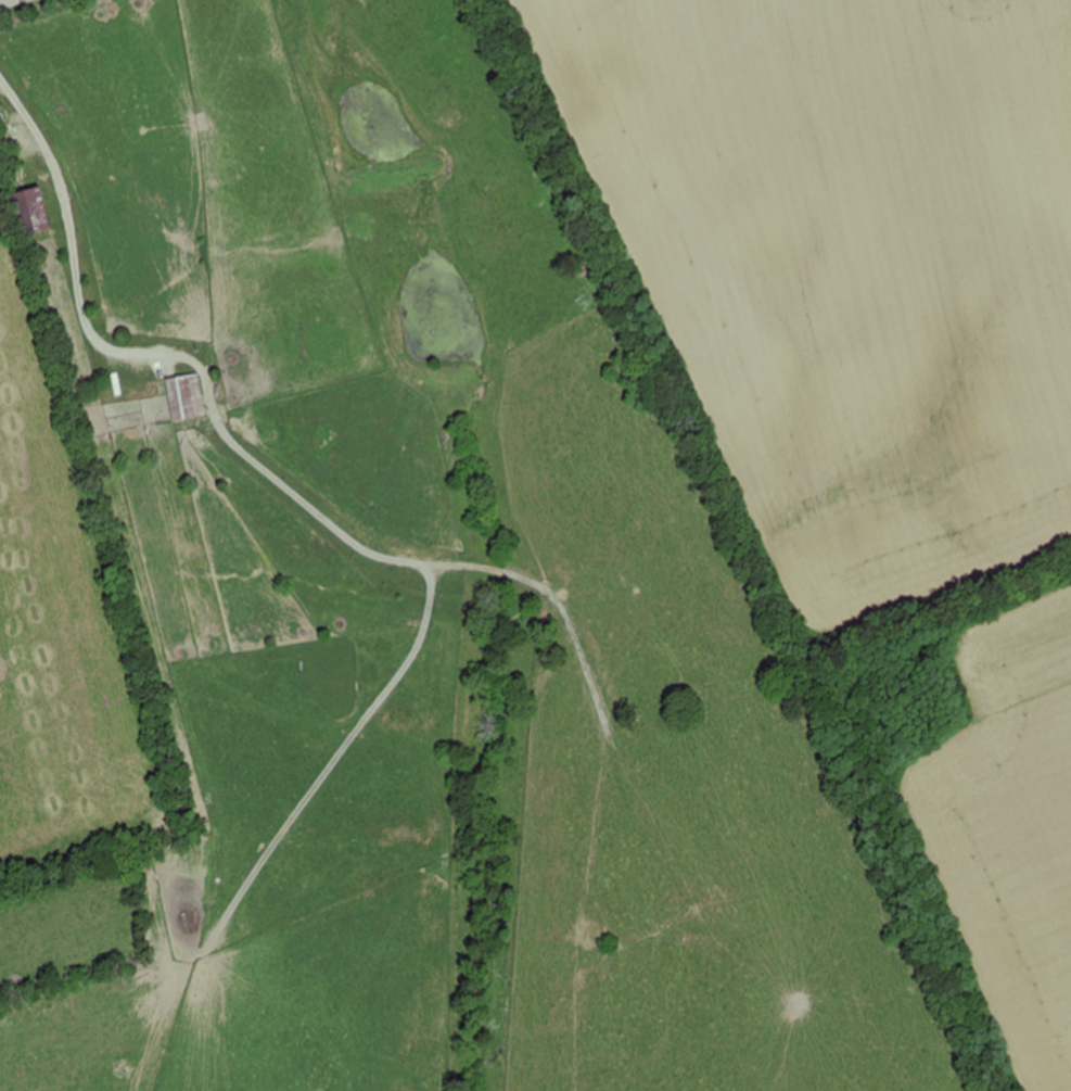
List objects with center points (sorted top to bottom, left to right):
road: (3, 0)
building: (30, 212)
building: (184, 398)

